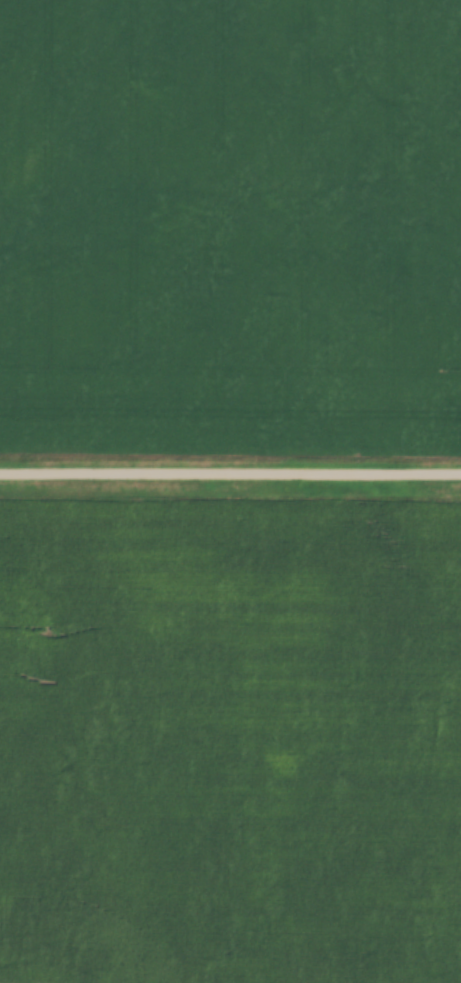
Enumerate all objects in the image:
road: (230, 470)

